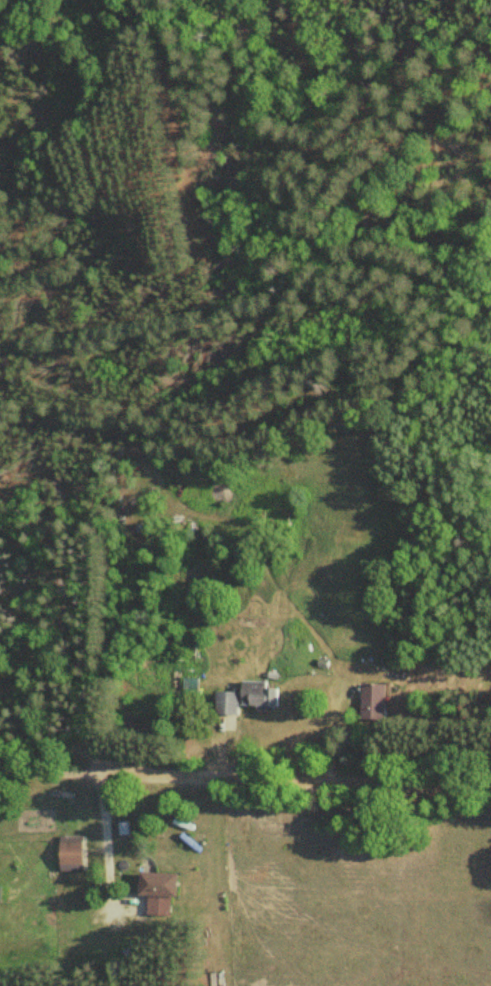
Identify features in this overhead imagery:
building: (190, 684)
building: (260, 694)
building: (378, 700)
building: (228, 702)
road: (51, 769)
road: (296, 776)
building: (74, 852)
building: (159, 890)

